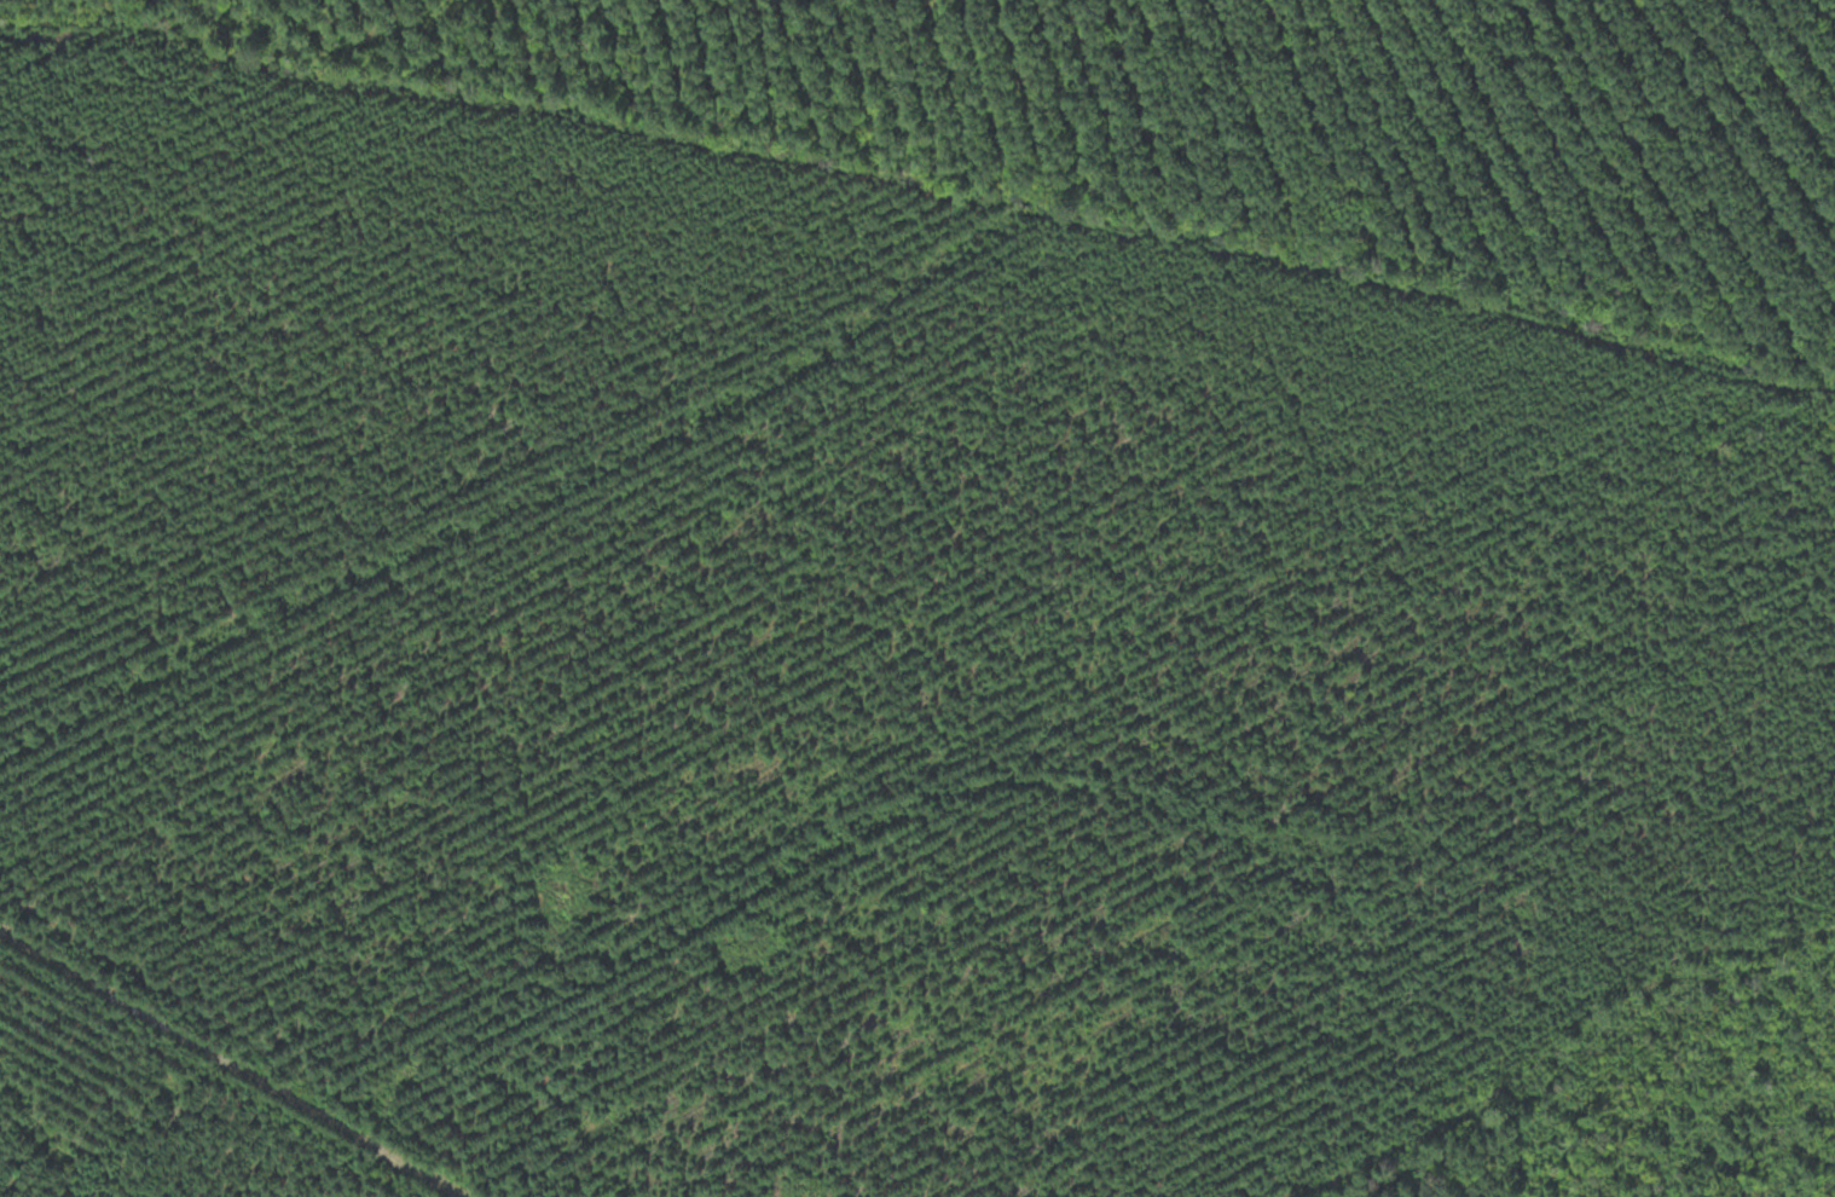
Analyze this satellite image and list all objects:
road: (228, 1065)

